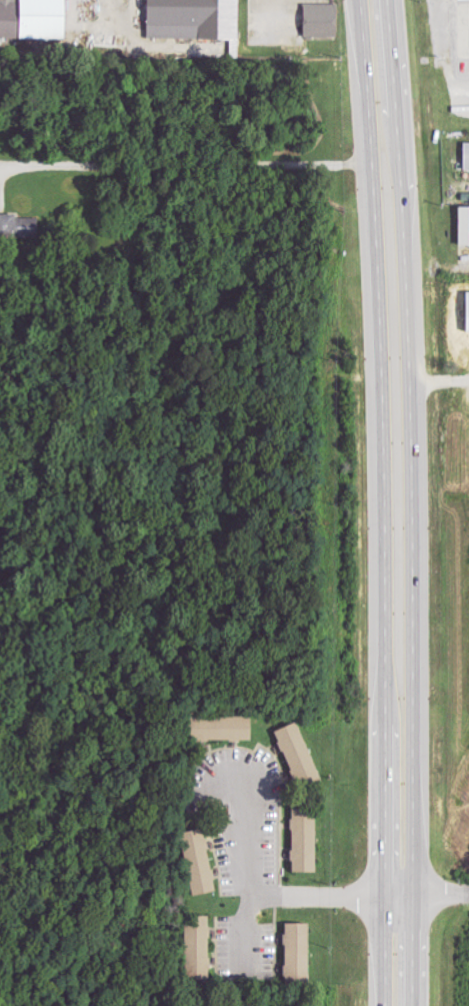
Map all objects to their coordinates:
building: (32, 19)
building: (192, 20)
building: (319, 21)
building: (466, 157)
road: (185, 167)
building: (18, 225)
building: (463, 228)
building: (467, 311)
road: (385, 502)
road: (413, 502)
building: (218, 728)
building: (297, 754)
building: (302, 840)
building: (199, 862)
road: (246, 893)
road: (357, 893)
building: (196, 947)
building: (296, 953)

